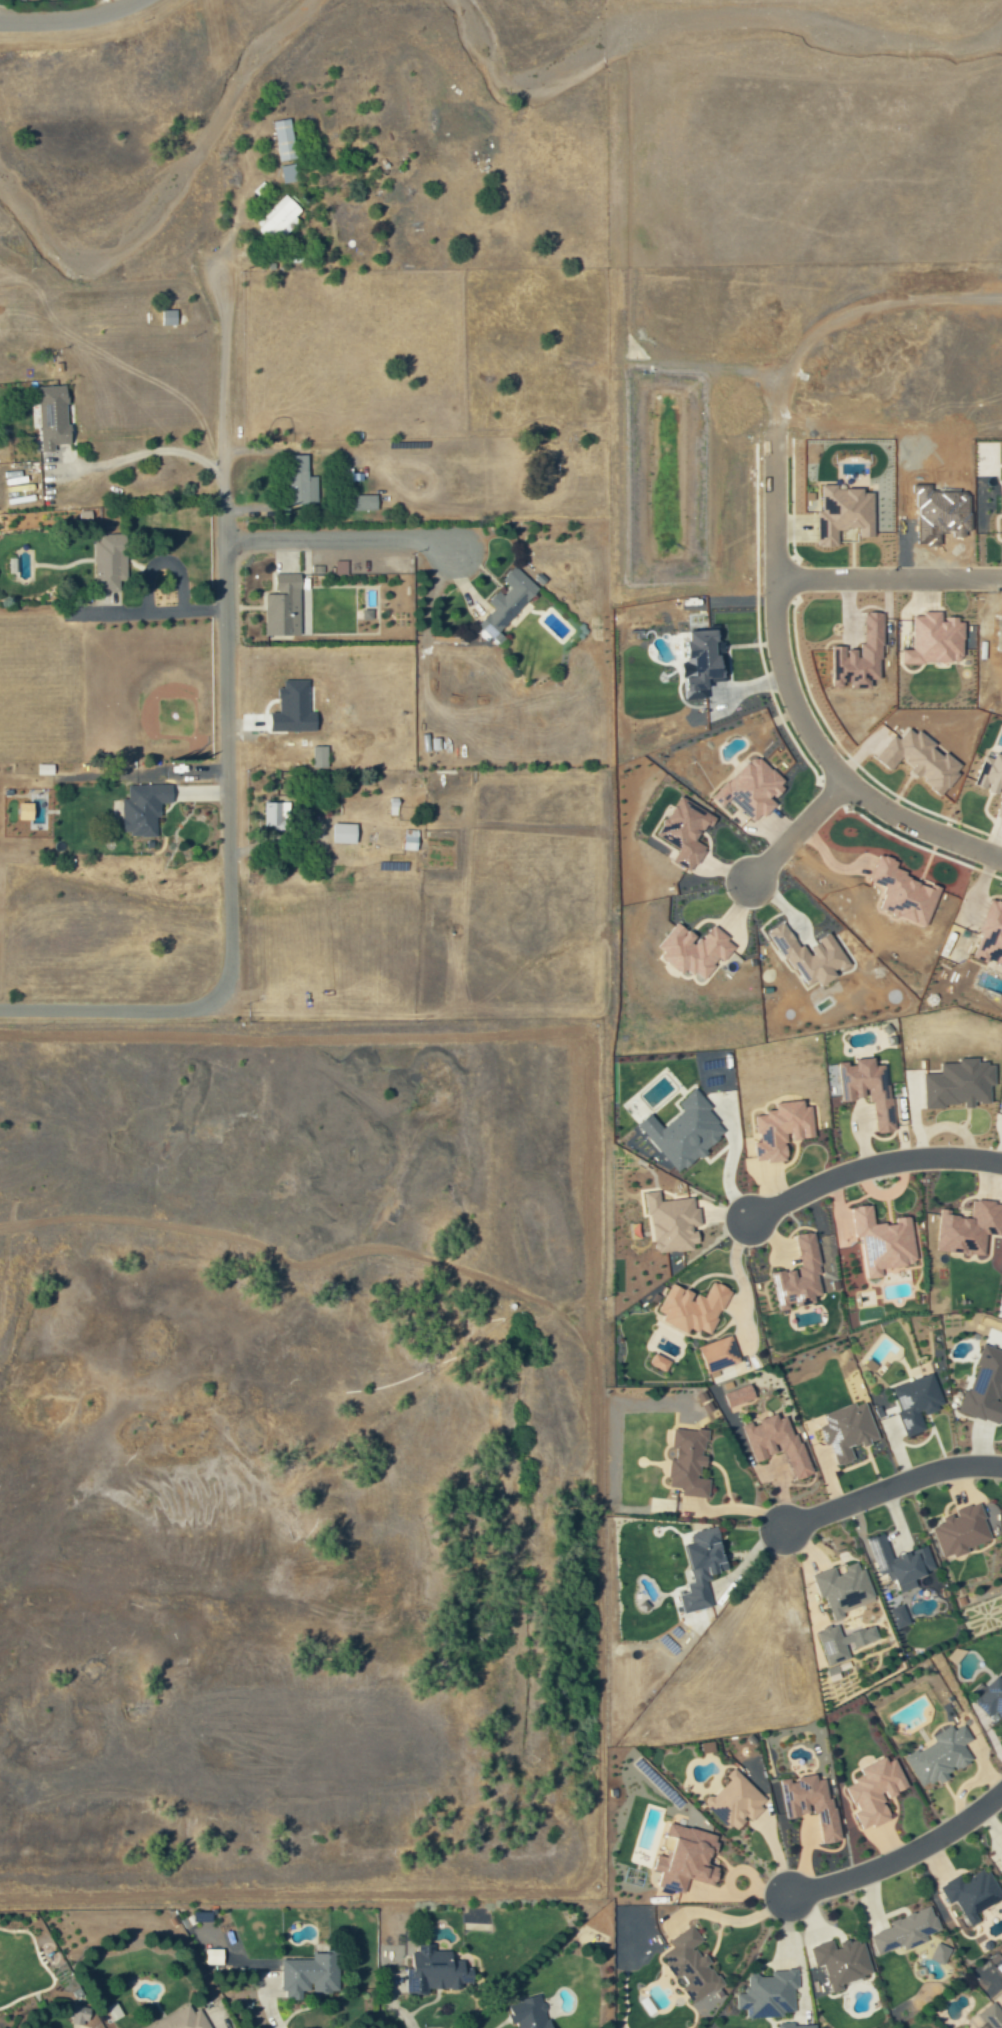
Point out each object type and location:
road: (72, 17)
building: (285, 139)
building: (289, 173)
building: (279, 219)
building: (55, 416)
road: (143, 453)
building: (302, 481)
building: (366, 502)
road: (342, 539)
building: (111, 561)
building: (342, 567)
building: (510, 602)
building: (285, 606)
building: (451, 639)
building: (936, 639)
building: (704, 656)
road: (777, 667)
road: (226, 741)
building: (321, 756)
building: (991, 774)
building: (753, 788)
building: (145, 808)
building: (1000, 812)
building: (277, 815)
road: (794, 831)
building: (687, 832)
building: (345, 833)
building: (991, 936)
building: (696, 950)
building: (812, 957)
building: (870, 1088)
building: (783, 1130)
building: (686, 1132)
road: (870, 1165)
building: (674, 1223)
building: (970, 1229)
building: (886, 1242)
building: (801, 1278)
building: (696, 1308)
building: (720, 1354)
building: (662, 1360)
building: (986, 1387)
building: (742, 1397)
building: (705, 1402)
building: (918, 1403)
building: (849, 1431)
building: (778, 1443)
building: (691, 1463)
road: (891, 1486)
building: (966, 1529)
building: (902, 1563)
building: (704, 1568)
building: (844, 1588)
building: (901, 1616)
building: (834, 1645)
building: (953, 1655)
building: (990, 1698)
building: (937, 1755)
building: (871, 1791)
building: (734, 1801)
building: (808, 1802)
building: (684, 1857)
road: (901, 1858)
building: (1000, 1863)
building: (969, 1893)
road: (728, 1920)
building: (903, 1931)
building: (937, 1952)
building: (213, 1957)
building: (838, 1961)
building: (688, 1965)
building: (432, 1970)
building: (305, 1975)
building: (766, 1993)
building: (526, 2013)
building: (74, 2015)
building: (988, 2017)
building: (179, 2019)

